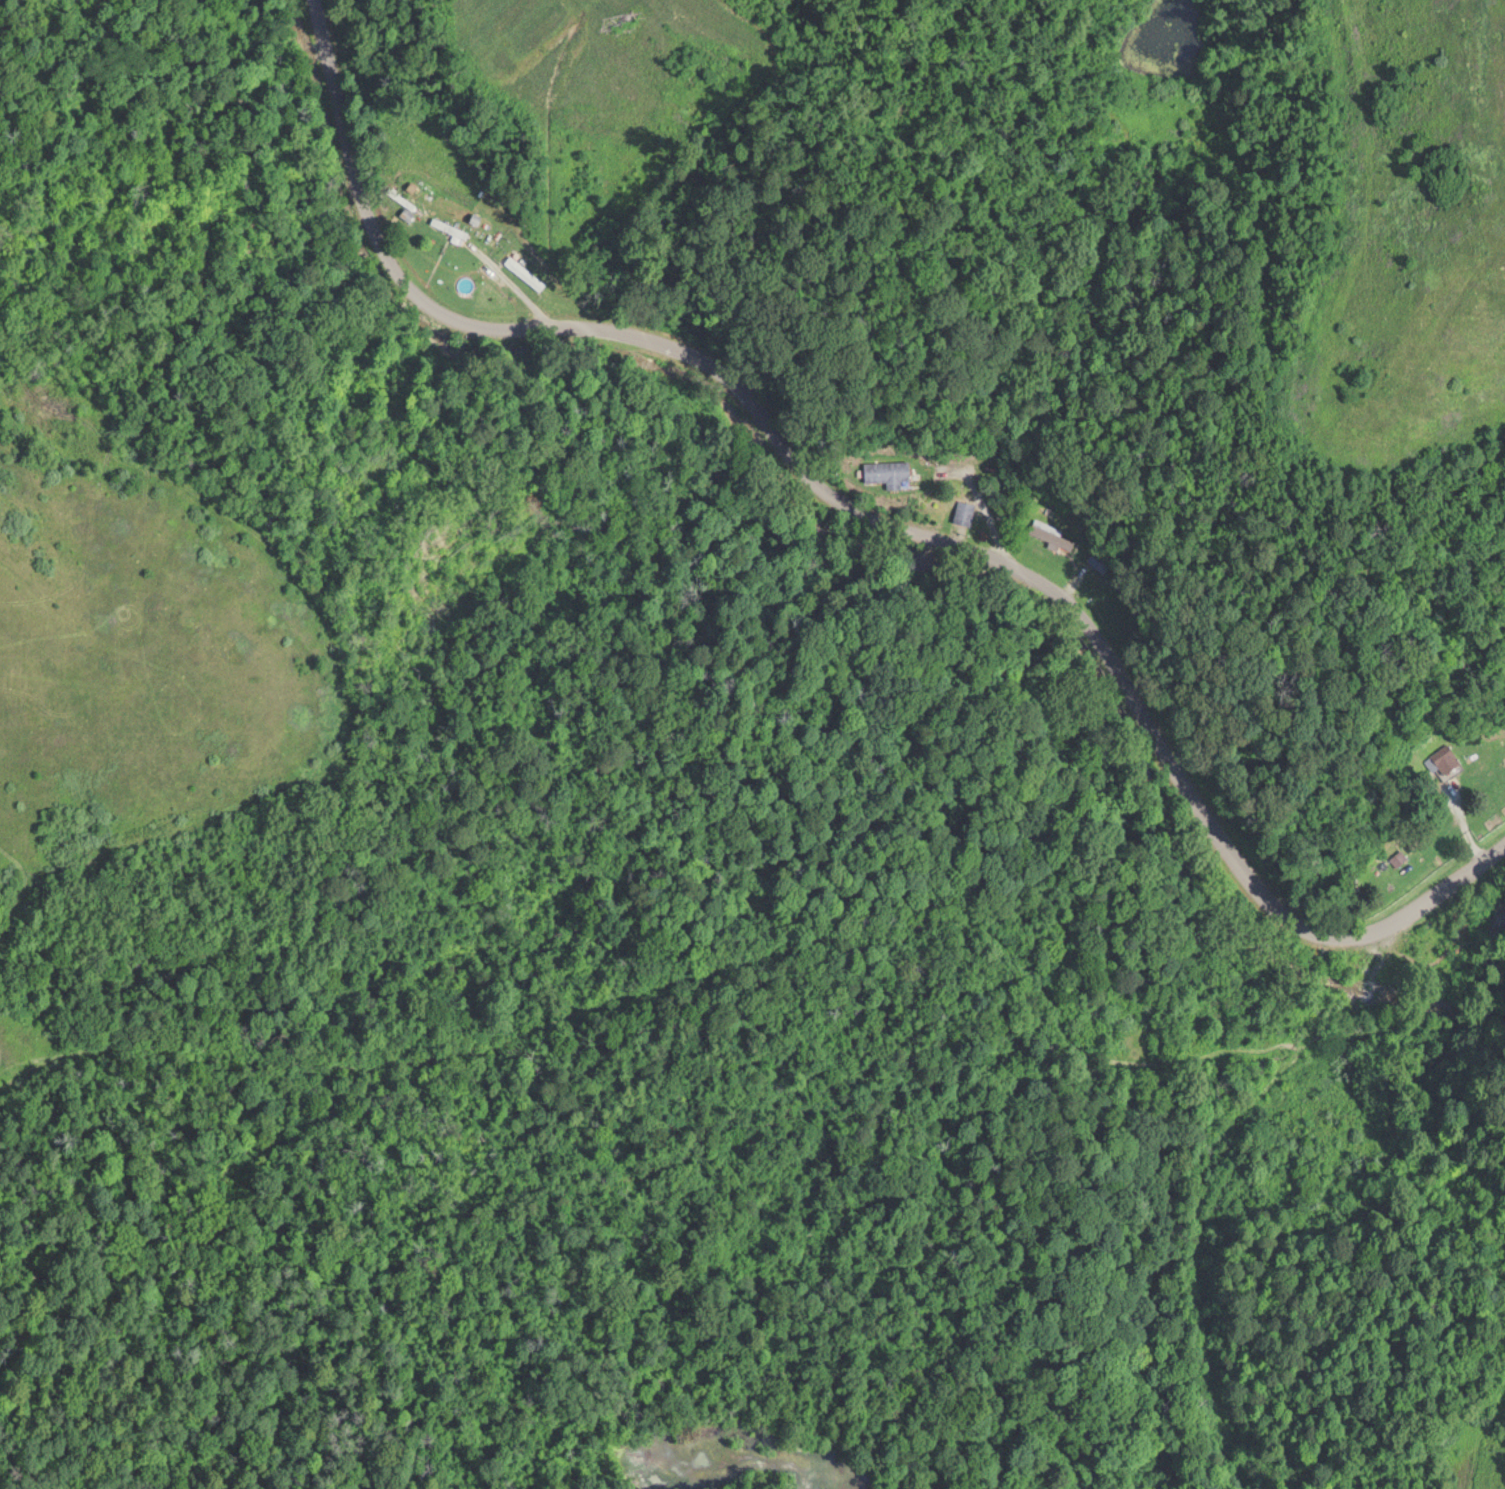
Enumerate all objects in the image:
building: (887, 470)
road: (919, 486)
building: (964, 511)
building: (1052, 533)
building: (1098, 559)
building: (1447, 756)
building: (1399, 856)

